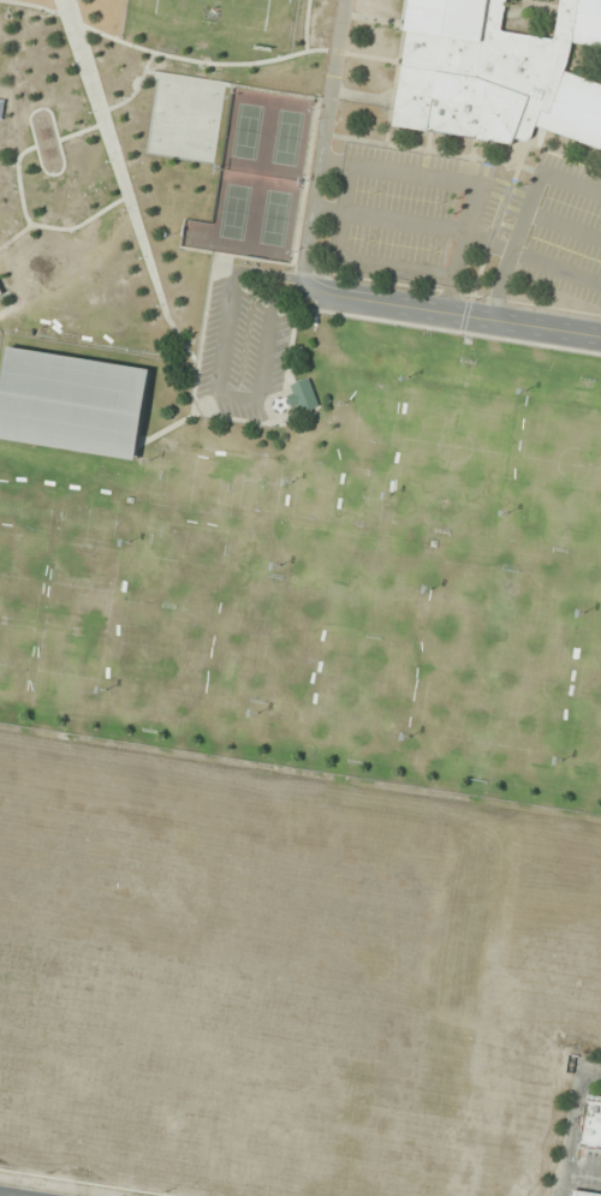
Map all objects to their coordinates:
road: (36, 6)
park: (224, 11)
road: (305, 24)
road: (195, 60)
building: (496, 72)
road: (135, 89)
park: (189, 89)
park: (185, 115)
park: (246, 130)
road: (81, 131)
park: (287, 137)
road: (35, 142)
road: (323, 142)
park: (182, 143)
road: (464, 180)
road: (572, 183)
road: (123, 184)
park: (234, 212)
parking lot: (410, 212)
park: (275, 218)
road: (391, 219)
road: (38, 225)
road: (565, 225)
parking lot: (557, 228)
road: (16, 234)
road: (517, 244)
road: (351, 257)
road: (557, 270)
building: (0, 292)
road: (451, 310)
parking lot: (242, 351)
road: (196, 365)
road: (219, 381)
building: (303, 395)
building: (71, 403)
road: (169, 426)
park: (272, 436)
park: (456, 446)
park: (560, 466)
park: (261, 482)
park: (314, 489)
park: (363, 496)
park: (24, 514)
park: (85, 524)
park: (155, 557)
park: (20, 569)
park: (245, 572)
park: (78, 579)
park: (352, 588)
park: (4, 651)
park: (73, 674)
park: (493, 674)
park: (135, 684)
park: (225, 697)
park: (332, 714)
park: (588, 715)
road: (572, 1114)
building: (590, 1123)
road: (583, 1174)
road: (564, 1184)
gas station: (583, 1192)
building: (584, 1192)

